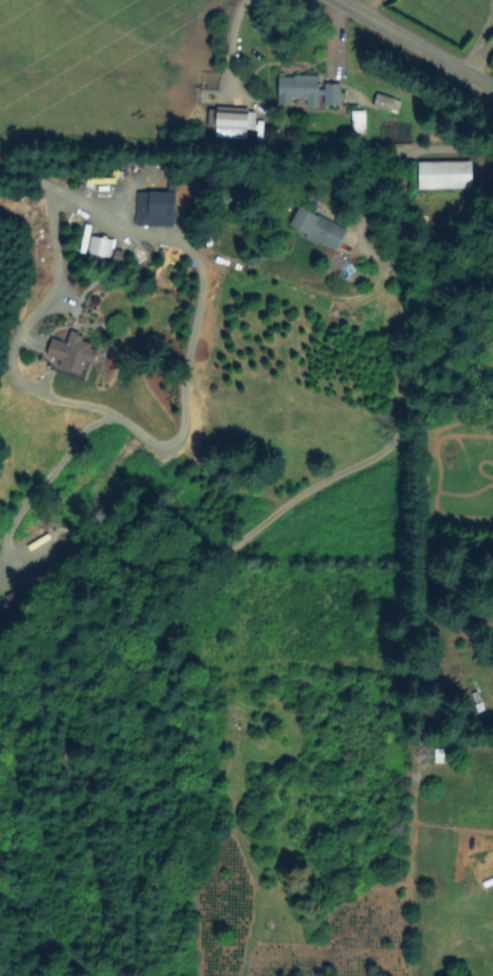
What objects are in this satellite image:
road: (367, 5)
road: (478, 35)
road: (417, 43)
road: (228, 47)
road: (480, 53)
building: (299, 89)
building: (333, 94)
building: (387, 102)
building: (233, 118)
building: (359, 121)
road: (37, 172)
building: (447, 174)
building: (156, 209)
building: (318, 227)
building: (73, 351)
road: (141, 439)
road: (260, 530)
building: (14, 598)
building: (440, 754)

